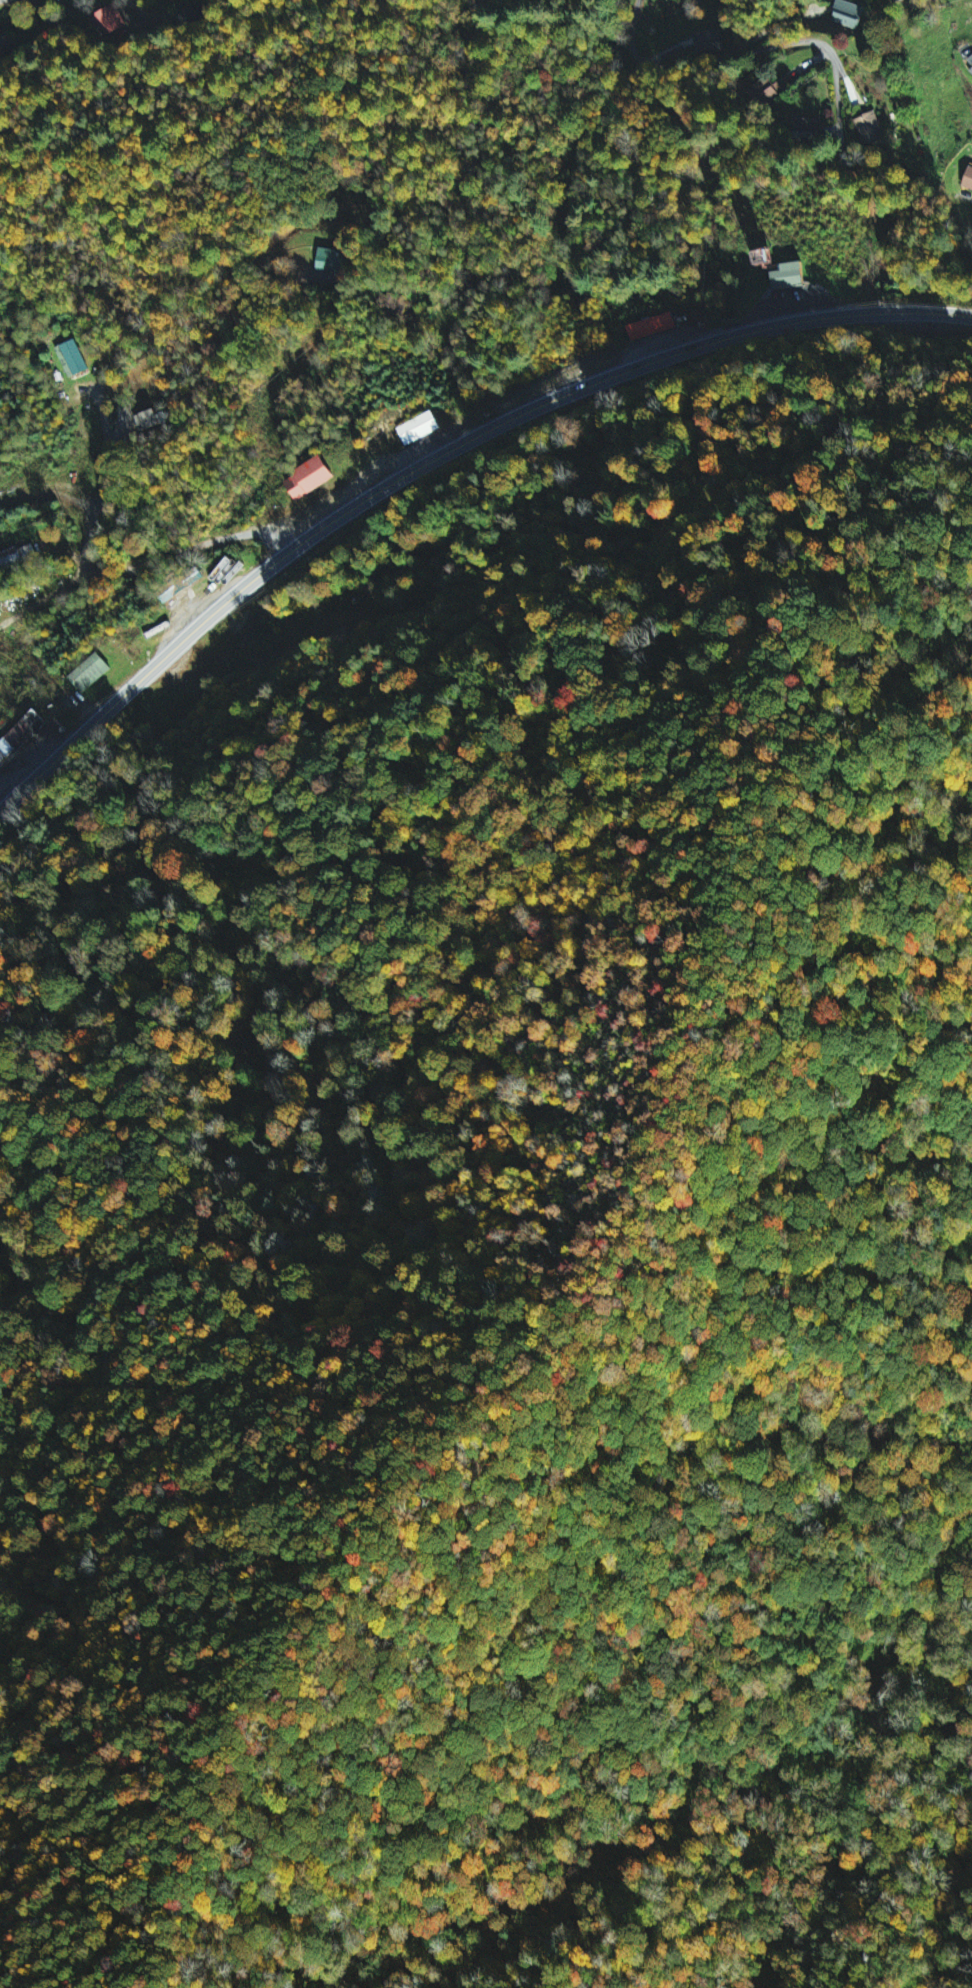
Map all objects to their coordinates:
building: (900, 1)
road: (136, 3)
building: (848, 15)
building: (109, 21)
road: (741, 26)
building: (970, 61)
building: (970, 73)
building: (762, 93)
building: (869, 129)
building: (968, 180)
road: (971, 201)
road: (392, 223)
building: (331, 261)
building: (788, 276)
building: (653, 328)
building: (72, 359)
building: (419, 429)
road: (436, 458)
road: (106, 472)
building: (308, 480)
building: (18, 557)
road: (45, 598)
building: (90, 674)
building: (20, 736)

